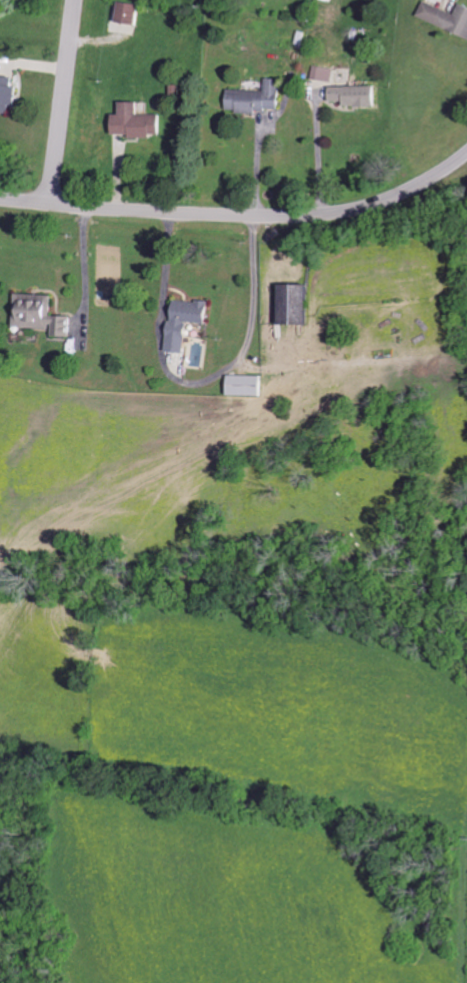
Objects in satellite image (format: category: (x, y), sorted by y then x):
building: (331, 0)
building: (133, 13)
building: (447, 17)
building: (325, 74)
building: (9, 95)
building: (359, 96)
building: (261, 98)
road: (64, 102)
building: (139, 122)
road: (314, 158)
road: (240, 214)
road: (81, 255)
road: (166, 260)
road: (255, 282)
building: (301, 305)
building: (44, 314)
building: (190, 322)
building: (251, 386)

